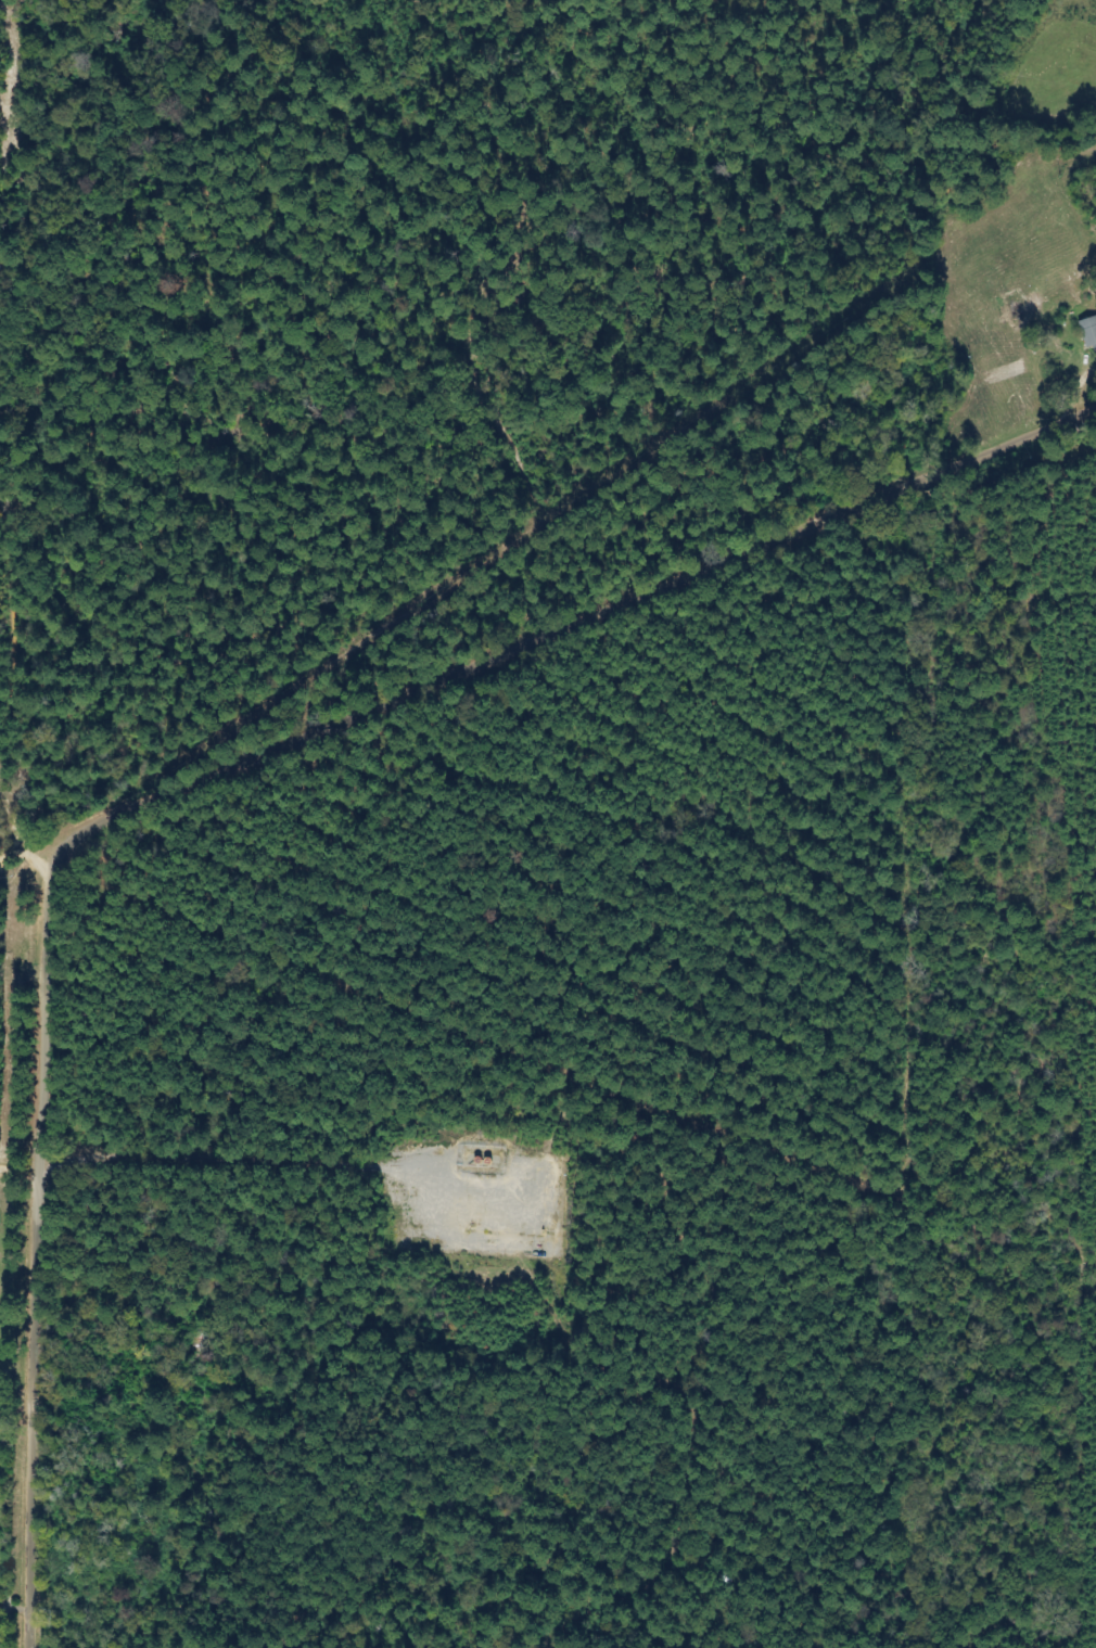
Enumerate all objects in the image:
building: (1088, 333)
road: (193, 768)
road: (7, 1345)
road: (5, 1604)

